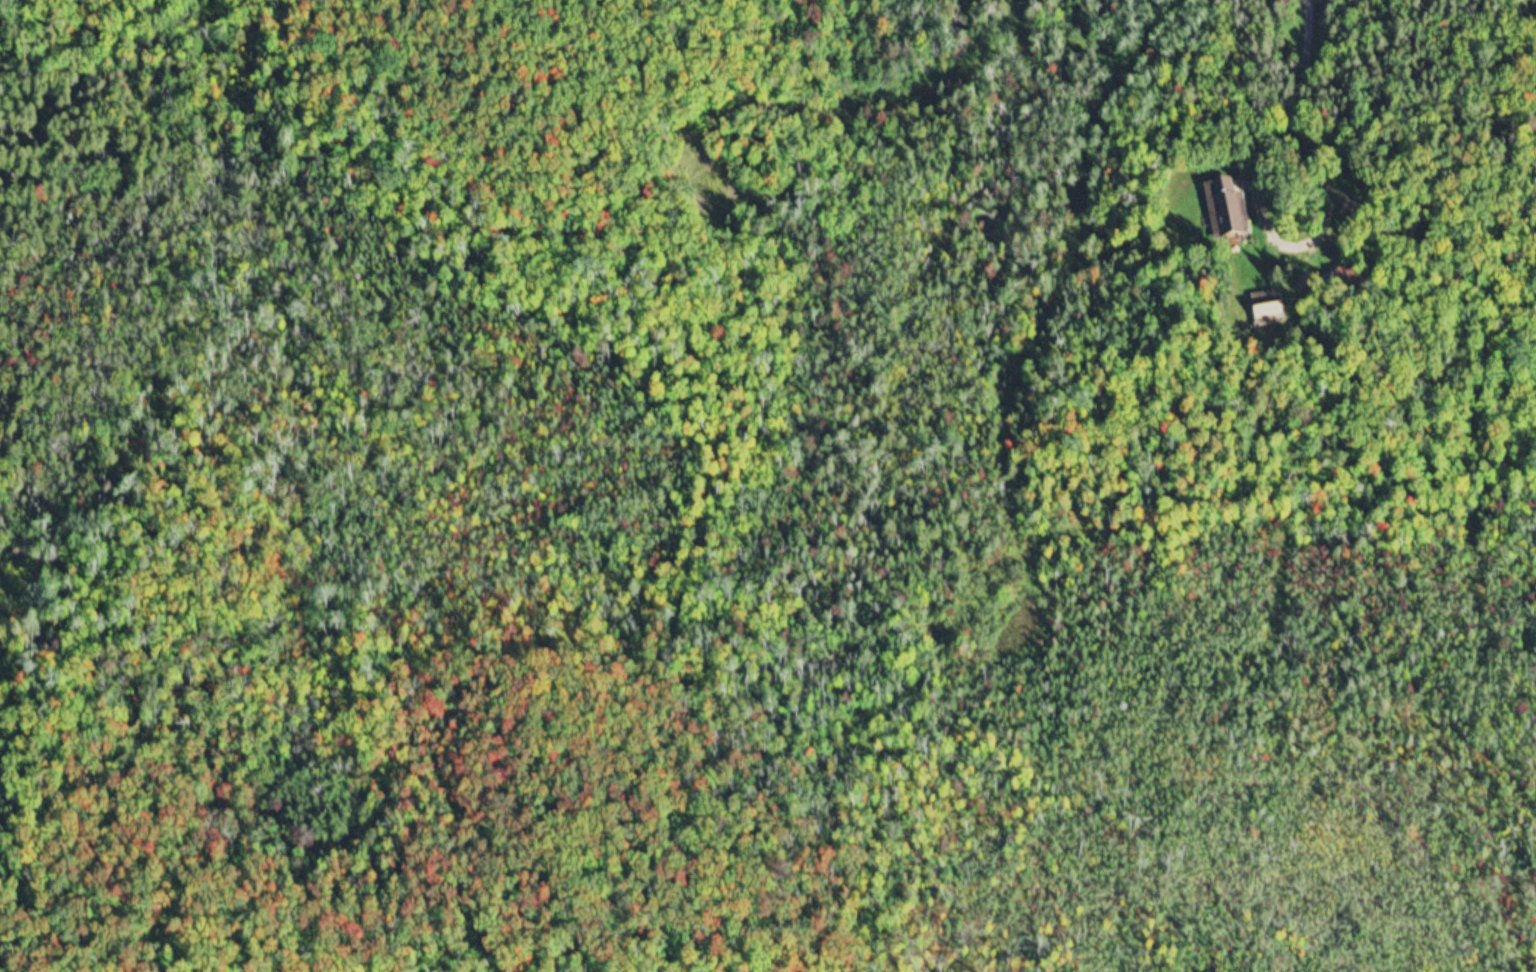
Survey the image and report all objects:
building: (1235, 214)
building: (1275, 309)

